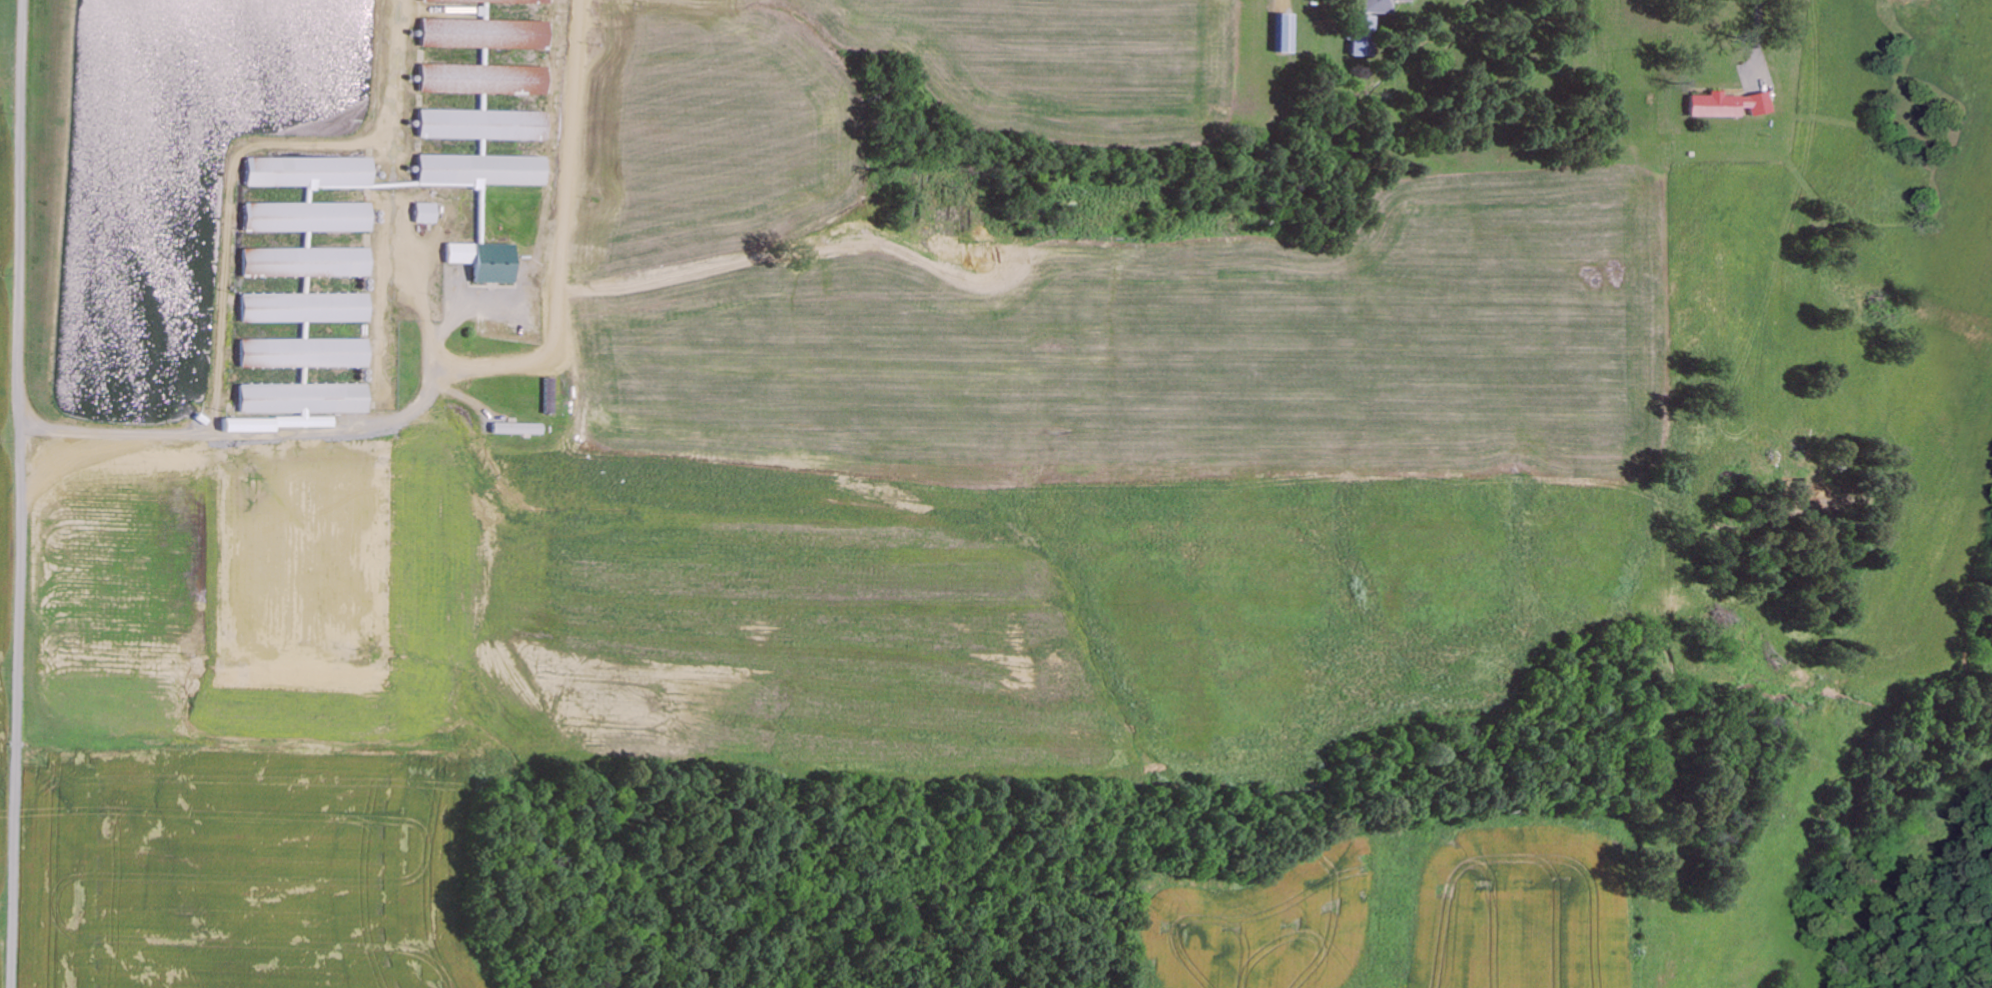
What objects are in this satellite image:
building: (443, 0)
building: (483, 0)
building: (543, 1)
building: (1374, 6)
building: (1284, 33)
building: (1361, 35)
building: (484, 79)
building: (1729, 104)
building: (483, 124)
building: (481, 170)
building: (311, 172)
building: (427, 212)
building: (308, 216)
building: (486, 260)
building: (307, 261)
building: (306, 307)
building: (303, 398)
building: (518, 428)
road: (23, 494)

